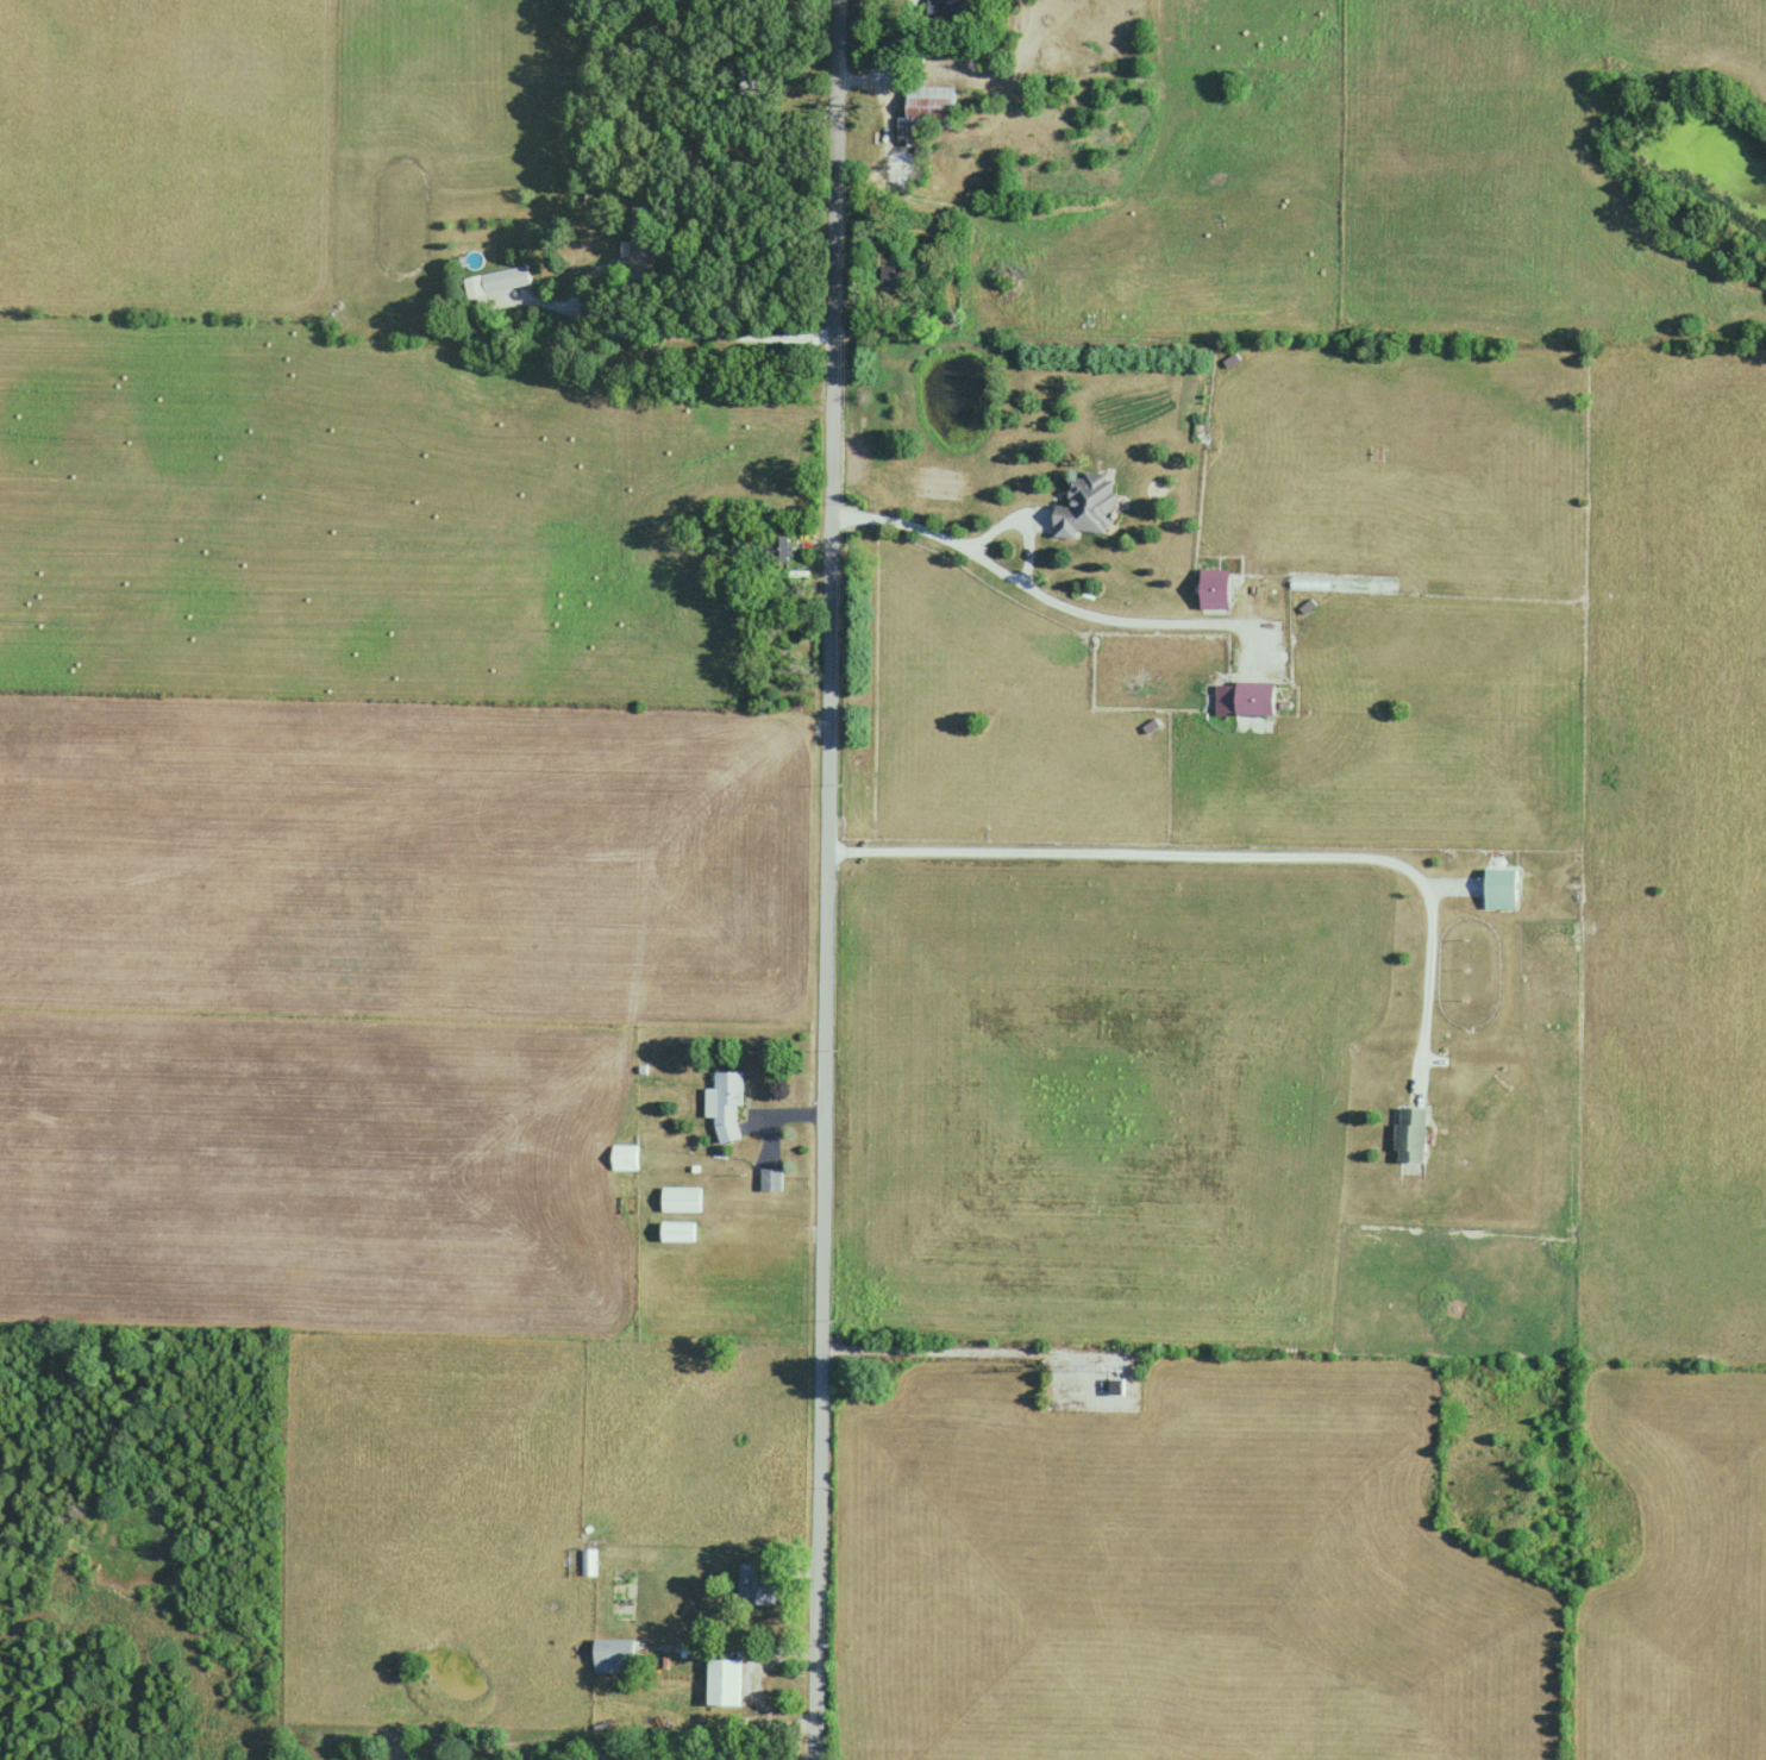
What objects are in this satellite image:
building: (947, 11)
road: (888, 55)
building: (749, 81)
building: (928, 107)
building: (893, 275)
building: (505, 280)
road: (683, 331)
building: (1085, 507)
building: (784, 549)
building: (1214, 589)
road: (1038, 593)
building: (1254, 697)
road: (1227, 853)
road: (826, 879)
building: (1501, 889)
building: (724, 1106)
building: (1410, 1135)
building: (624, 1158)
building: (770, 1180)
building: (681, 1200)
building: (677, 1232)
building: (589, 1564)
building: (754, 1587)
building: (613, 1658)
building: (724, 1683)

